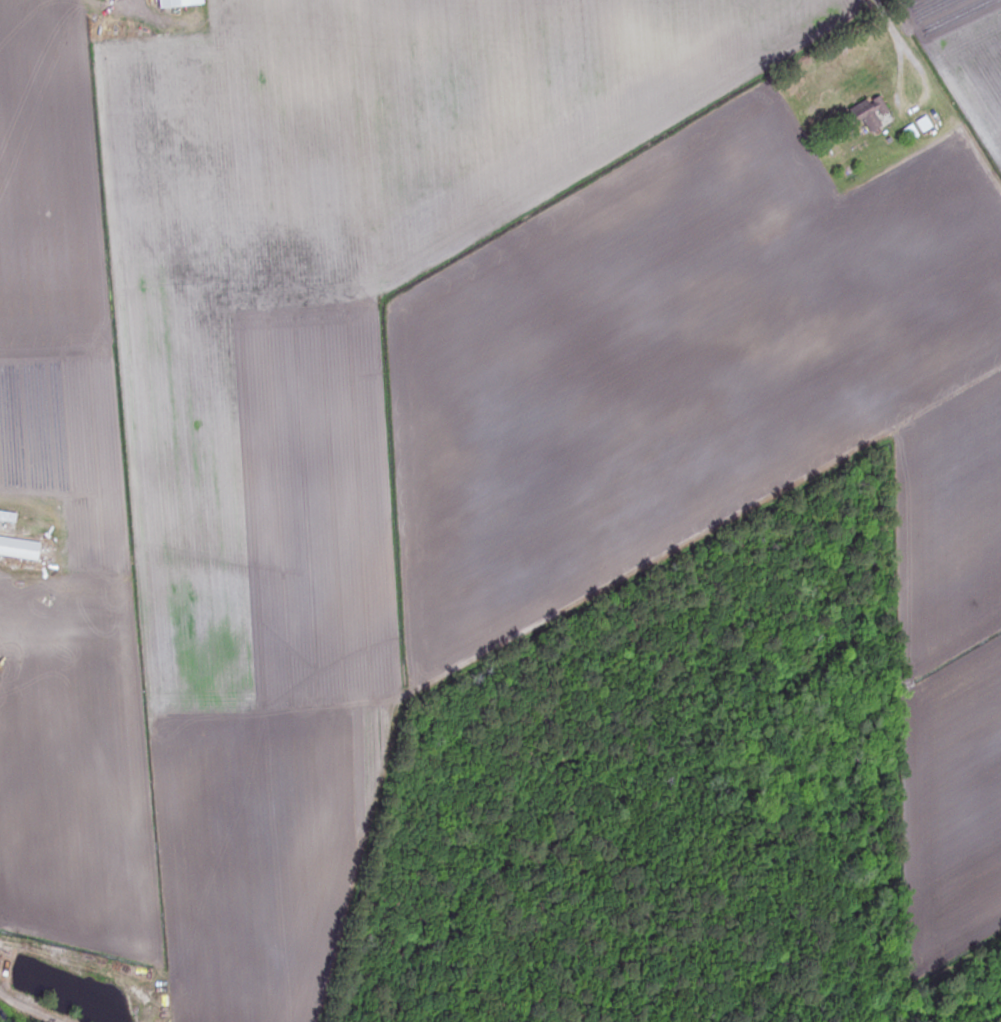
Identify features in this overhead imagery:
building: (181, 3)
road: (891, 44)
building: (873, 114)
building: (22, 549)

